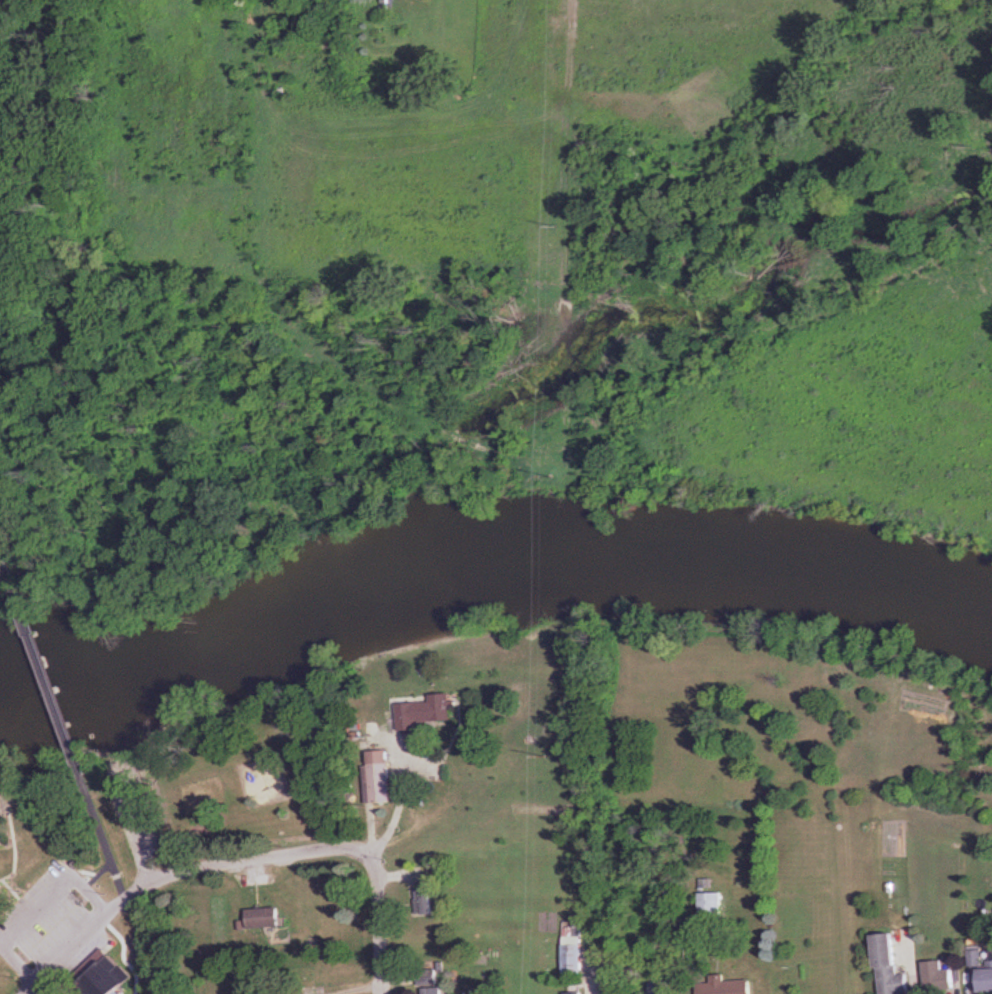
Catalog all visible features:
river: (487, 558)
road: (10, 584)
road: (49, 692)
building: (431, 712)
building: (381, 777)
road: (399, 809)
road: (103, 835)
road: (174, 874)
building: (425, 901)
building: (712, 905)
parking lot: (46, 918)
building: (266, 918)
road: (378, 922)
building: (574, 950)
building: (976, 959)
building: (894, 967)
building: (942, 978)
building: (110, 980)
building: (989, 980)
building: (664, 986)
building: (729, 986)
building: (433, 991)
building: (486, 992)
building: (579, 993)

